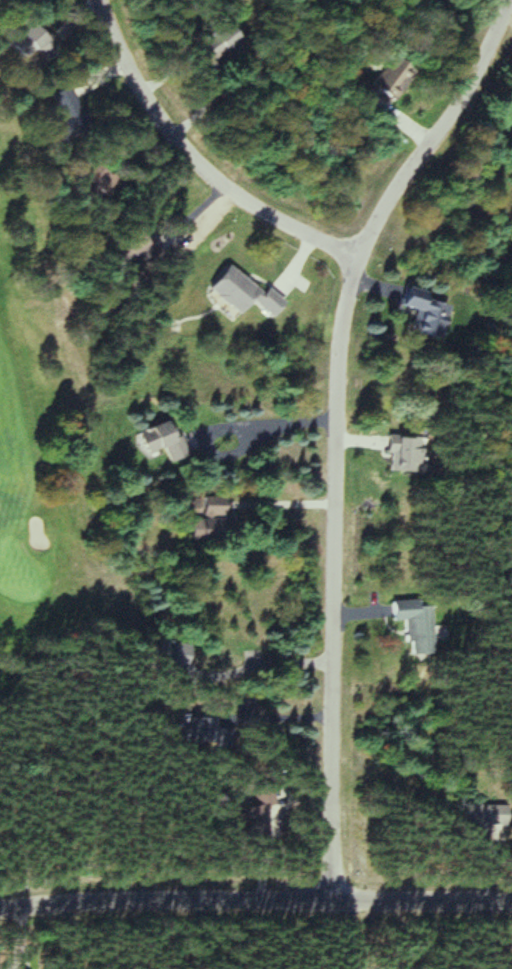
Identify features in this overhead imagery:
building: (19, 38)
building: (207, 41)
building: (375, 84)
building: (56, 111)
road: (194, 159)
building: (82, 182)
building: (117, 245)
building: (235, 294)
building: (414, 313)
road: (335, 429)
building: (154, 440)
park: (46, 442)
building: (396, 454)
building: (204, 521)
building: (407, 626)
building: (164, 656)
building: (196, 732)
building: (253, 815)
building: (477, 821)
road: (255, 901)

